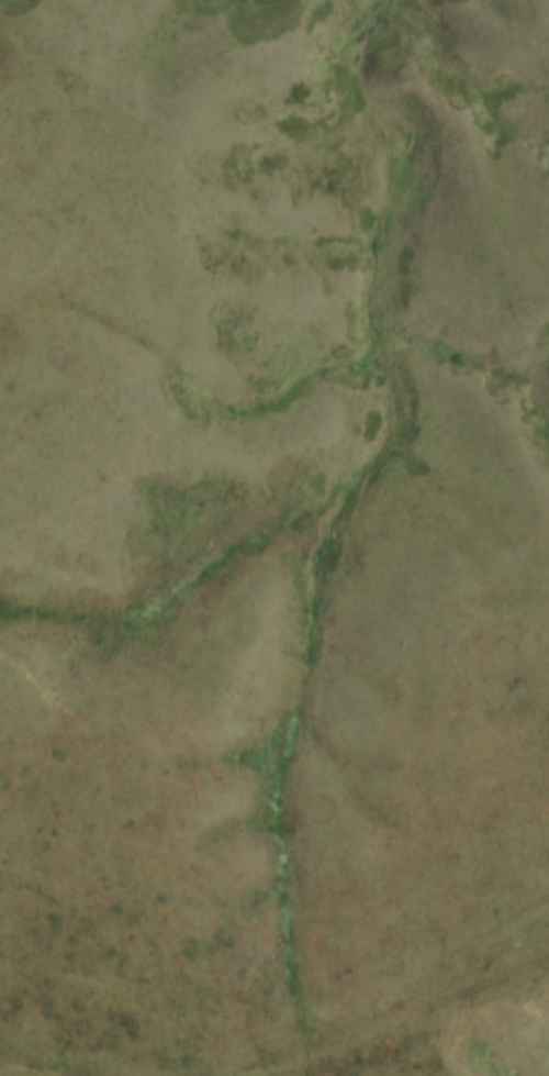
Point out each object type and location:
road: (384, 1002)
road: (20, 1054)
road: (46, 1068)
road: (37, 1072)

